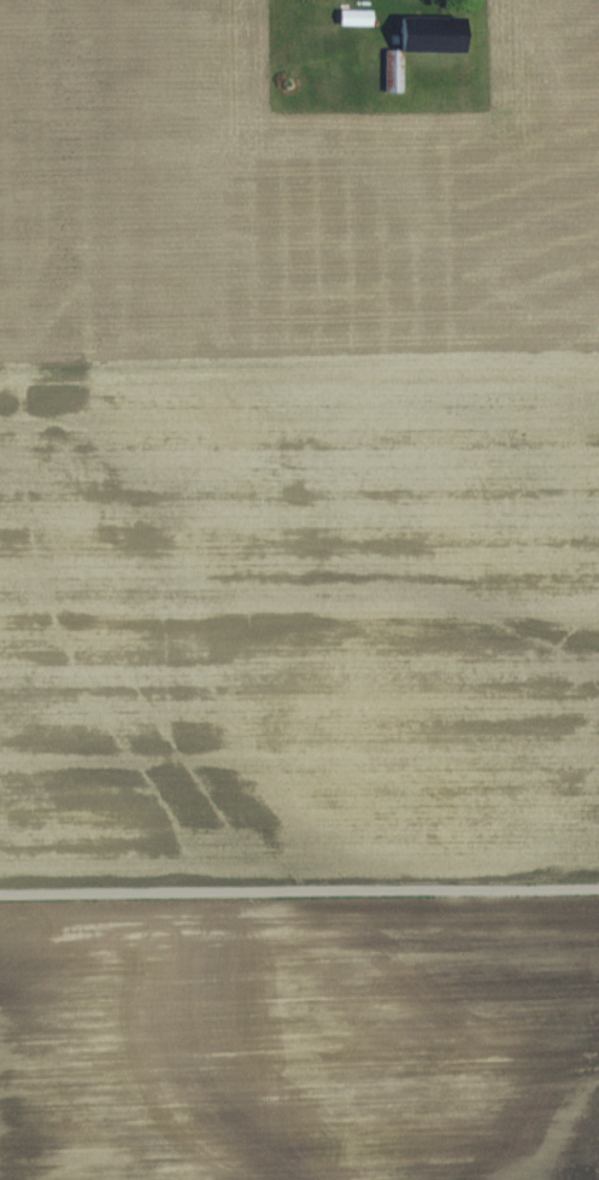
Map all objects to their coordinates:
road: (299, 888)

